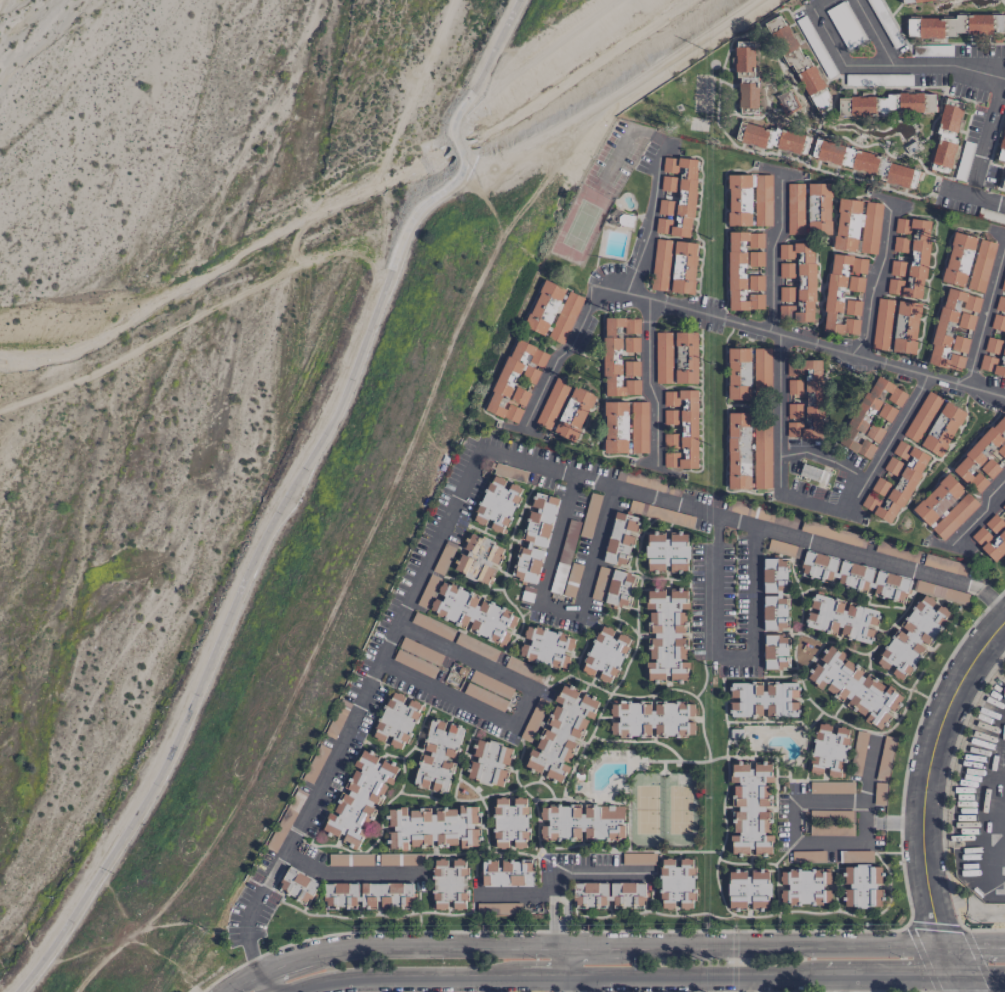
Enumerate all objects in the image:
building: (911, 1)
building: (960, 25)
road: (873, 31)
road: (835, 50)
building: (743, 61)
road: (670, 63)
road: (485, 66)
road: (998, 93)
building: (747, 98)
building: (787, 103)
building: (904, 103)
building: (861, 106)
building: (946, 136)
building: (772, 138)
road: (457, 145)
building: (1001, 148)
river: (63, 162)
building: (864, 163)
building: (1003, 183)
building: (676, 196)
building: (739, 200)
building: (763, 200)
building: (795, 208)
road: (647, 223)
building: (847, 224)
building: (871, 227)
road: (771, 251)
building: (908, 258)
building: (958, 259)
building: (660, 265)
building: (981, 265)
building: (745, 271)
road: (878, 279)
building: (796, 282)
building: (842, 284)
building: (1003, 284)
building: (1000, 304)
building: (544, 307)
building: (853, 307)
road: (986, 316)
building: (565, 318)
building: (966, 321)
building: (998, 323)
building: (882, 324)
building: (849, 326)
building: (905, 327)
building: (950, 328)
road: (801, 339)
building: (961, 344)
building: (621, 356)
building: (993, 356)
building: (676, 357)
road: (570, 358)
building: (762, 371)
building: (738, 373)
building: (515, 377)
road: (647, 377)
building: (517, 397)
building: (804, 399)
building: (552, 403)
building: (573, 414)
building: (871, 414)
road: (784, 415)
building: (922, 417)
building: (614, 427)
building: (639, 427)
building: (680, 429)
building: (942, 429)
building: (874, 433)
road: (890, 443)
building: (738, 451)
road: (499, 454)
building: (983, 456)
road: (827, 460)
building: (809, 472)
building: (647, 482)
building: (894, 484)
road: (816, 503)
building: (497, 504)
building: (1003, 506)
building: (944, 507)
building: (661, 514)
road: (979, 515)
building: (832, 533)
building: (535, 537)
building: (991, 537)
building: (620, 539)
building: (666, 552)
building: (444, 557)
building: (478, 559)
building: (565, 571)
road: (245, 575)
building: (854, 577)
building: (600, 583)
building: (619, 588)
building: (774, 595)
road: (992, 599)
road: (558, 606)
building: (473, 613)
building: (841, 618)
building: (667, 634)
building: (912, 637)
building: (546, 647)
building: (775, 652)
road: (730, 653)
building: (605, 654)
building: (832, 655)
building: (851, 669)
building: (526, 670)
building: (817, 675)
building: (871, 684)
building: (757, 688)
building: (769, 688)
building: (836, 688)
building: (735, 692)
building: (791, 692)
building: (890, 697)
building: (734, 704)
building: (790, 704)
building: (857, 704)
road: (521, 705)
building: (757, 708)
building: (769, 709)
building: (876, 717)
building: (650, 719)
building: (396, 720)
building: (821, 731)
building: (561, 733)
building: (842, 734)
building: (858, 748)
building: (437, 756)
building: (885, 758)
building: (488, 763)
building: (815, 764)
building: (835, 767)
building: (739, 770)
building: (763, 770)
building: (830, 787)
road: (924, 788)
building: (740, 793)
building: (879, 793)
building: (764, 794)
building: (359, 799)
road: (980, 804)
road: (794, 808)
park: (662, 809)
building: (285, 820)
building: (739, 820)
building: (764, 820)
building: (510, 822)
building: (581, 822)
building: (831, 822)
road: (903, 823)
building: (431, 827)
building: (738, 843)
building: (764, 843)
building: (807, 856)
building: (856, 856)
building: (350, 859)
building: (400, 859)
building: (638, 859)
road: (344, 869)
building: (506, 873)
road: (580, 873)
building: (850, 873)
building: (874, 873)
building: (448, 884)
building: (676, 884)
building: (297, 886)
building: (804, 887)
building: (748, 890)
road: (520, 893)
building: (609, 894)
building: (341, 895)
building: (386, 895)
building: (850, 896)
building: (874, 896)
building: (498, 908)
road: (246, 924)
road: (558, 931)
road: (589, 945)
road: (783, 945)
road: (974, 945)
road: (433, 948)
road: (560, 961)
road: (285, 964)
road: (889, 972)
road: (692, 974)
road: (980, 974)
road: (405, 976)
road: (541, 976)
road: (244, 981)
road: (266, 981)
road: (840, 982)
road: (959, 982)
road: (745, 983)
road: (563, 984)

